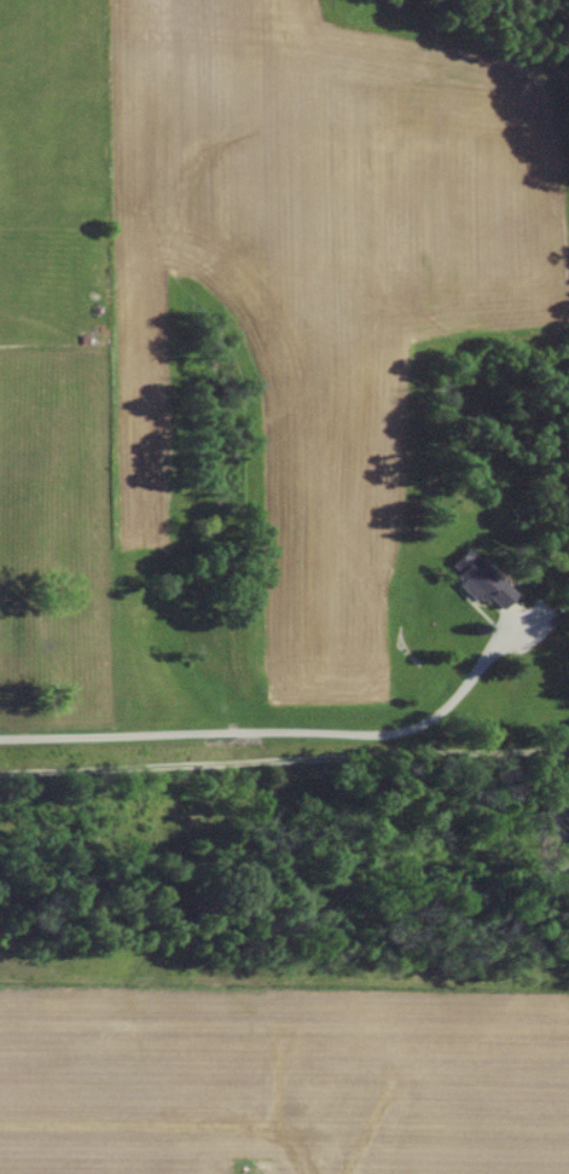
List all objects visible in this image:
building: (481, 582)
road: (283, 734)
road: (284, 762)

